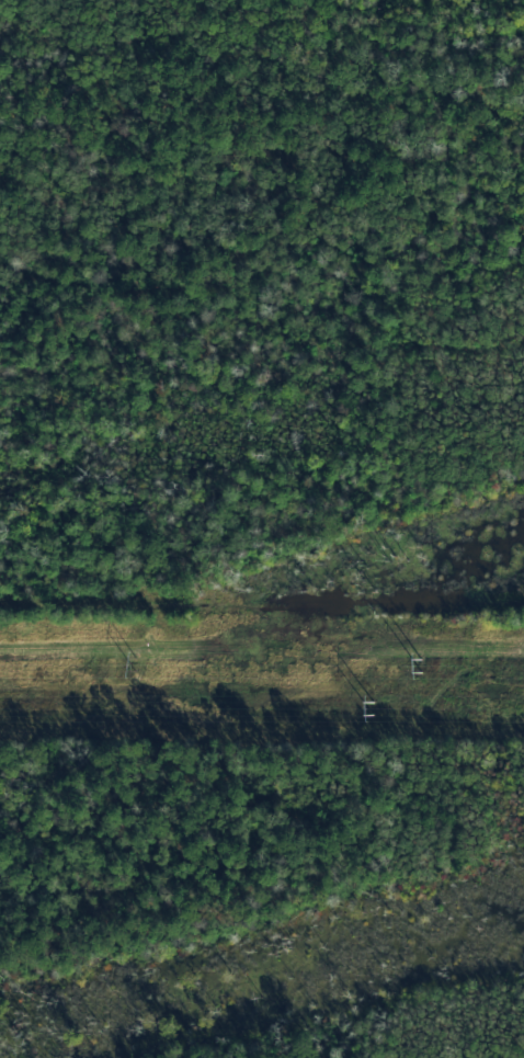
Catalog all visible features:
power tower: (374, 712)

